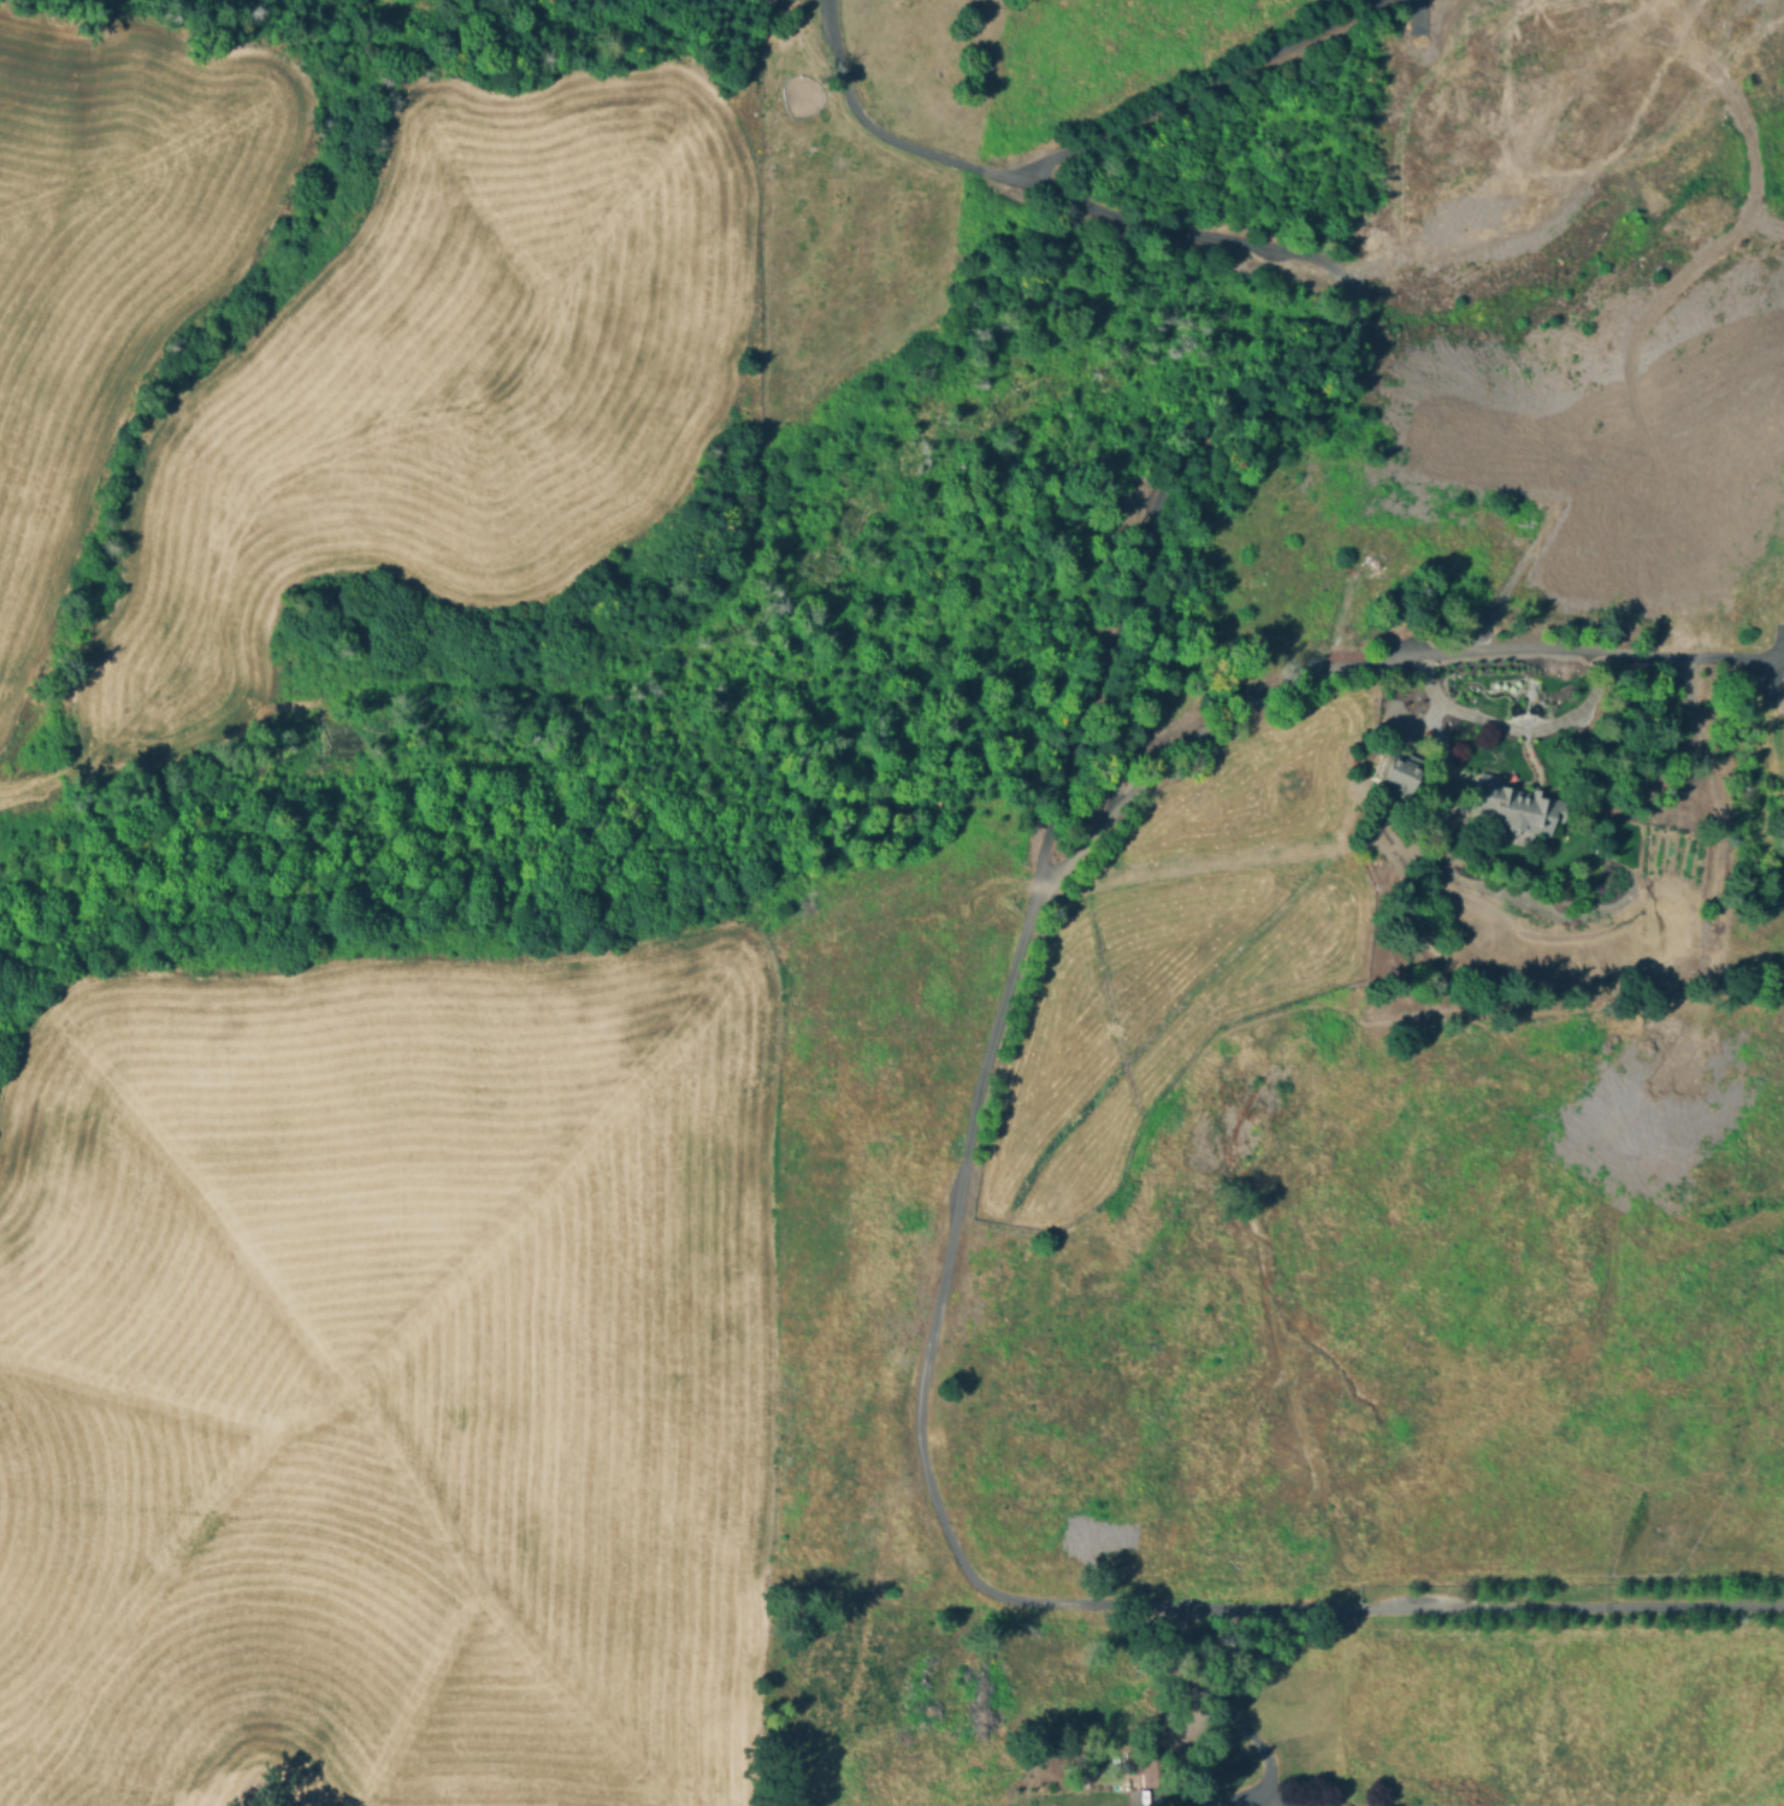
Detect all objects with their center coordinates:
road: (885, 136)
crop: (344, 349)
road: (1774, 654)
road: (1360, 668)
road: (1514, 726)
building: (1401, 772)
building: (1517, 805)
road: (1026, 926)
crop: (388, 1377)
road: (1218, 1702)

